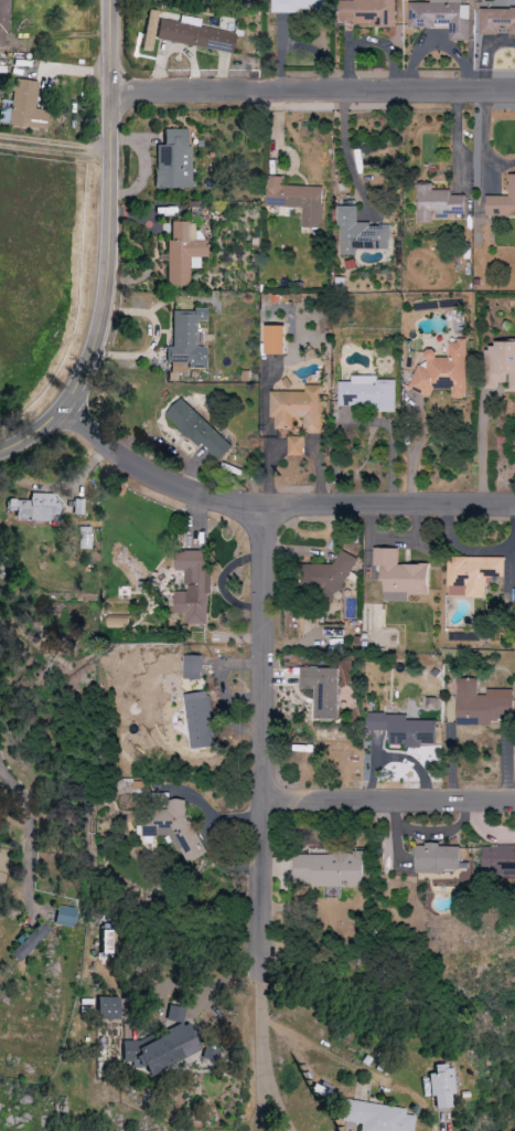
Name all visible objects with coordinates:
building: (302, 6)
building: (368, 12)
building: (443, 17)
building: (498, 21)
building: (4, 22)
building: (194, 35)
road: (314, 91)
building: (23, 107)
road: (55, 151)
road: (347, 151)
building: (174, 160)
building: (299, 200)
building: (440, 202)
building: (503, 202)
building: (363, 233)
road: (114, 250)
building: (183, 254)
building: (279, 339)
building: (186, 342)
building: (503, 362)
building: (446, 371)
building: (371, 393)
building: (300, 408)
building: (201, 429)
building: (298, 445)
road: (482, 453)
building: (35, 508)
road: (275, 510)
building: (86, 538)
building: (475, 574)
building: (331, 575)
building: (404, 577)
building: (197, 586)
building: (122, 621)
building: (195, 667)
building: (324, 690)
building: (483, 704)
building: (203, 722)
building: (408, 730)
road: (266, 740)
road: (390, 801)
road: (28, 829)
building: (179, 831)
building: (443, 858)
building: (500, 859)
building: (332, 868)
building: (65, 917)
building: (31, 942)
building: (108, 1008)
building: (176, 1014)
road: (261, 1055)
building: (442, 1087)
road: (260, 1102)
building: (377, 1117)
road: (444, 1127)

